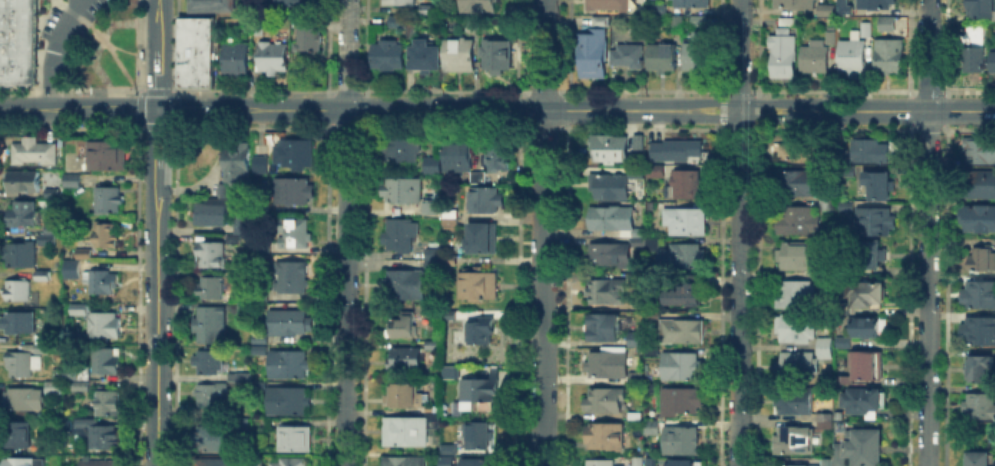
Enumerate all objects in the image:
building: (17, 2)
building: (293, 3)
building: (399, 4)
building: (606, 4)
building: (693, 4)
building: (795, 4)
building: (875, 5)
building: (212, 6)
building: (479, 7)
building: (656, 7)
building: (427, 8)
building: (980, 9)
building: (825, 10)
building: (844, 10)
building: (17, 15)
building: (601, 21)
building: (394, 22)
building: (674, 24)
building: (699, 24)
parking lot: (70, 26)
building: (888, 26)
building: (258, 30)
building: (407, 30)
building: (867, 31)
building: (194, 35)
building: (831, 36)
road: (102, 39)
building: (308, 39)
building: (17, 41)
road: (51, 50)
building: (971, 52)
road: (129, 53)
building: (425, 53)
building: (493, 53)
road: (345, 54)
building: (460, 55)
building: (593, 55)
building: (236, 56)
building: (389, 56)
building: (628, 56)
building: (699, 56)
building: (783, 56)
building: (817, 58)
building: (272, 59)
building: (663, 59)
building: (853, 60)
building: (890, 60)
building: (994, 62)
building: (17, 69)
building: (194, 70)
road: (148, 90)
road: (139, 100)
road: (743, 101)
road: (722, 109)
road: (758, 109)
traffic signals: (157, 110)
road: (347, 110)
road: (892, 110)
road: (742, 118)
building: (398, 147)
building: (677, 147)
building: (608, 148)
building: (800, 151)
building: (454, 153)
building: (871, 153)
building: (981, 153)
building: (35, 154)
building: (496, 155)
building: (108, 156)
building: (294, 156)
building: (194, 162)
building: (261, 162)
building: (430, 163)
building: (238, 165)
building: (655, 170)
building: (636, 172)
building: (471, 175)
building: (479, 175)
building: (24, 180)
building: (73, 182)
building: (879, 185)
building: (688, 186)
building: (798, 186)
building: (983, 186)
building: (610, 187)
building: (399, 188)
building: (224, 191)
building: (52, 194)
building: (294, 194)
building: (482, 197)
building: (109, 202)
building: (824, 203)
building: (428, 205)
building: (846, 206)
building: (447, 212)
building: (212, 215)
building: (24, 216)
building: (610, 216)
building: (977, 219)
building: (447, 220)
building: (797, 221)
building: (686, 223)
building: (875, 224)
building: (241, 226)
building: (448, 228)
building: (54, 229)
building: (638, 231)
road: (540, 232)
road: (738, 232)
road: (927, 232)
road: (156, 233)
building: (398, 233)
building: (292, 235)
building: (107, 236)
building: (479, 236)
building: (46, 240)
building: (637, 240)
building: (262, 251)
building: (430, 251)
building: (85, 254)
building: (609, 255)
building: (875, 255)
building: (21, 256)
building: (213, 256)
building: (682, 256)
building: (796, 257)
building: (446, 258)
building: (981, 260)
building: (430, 262)
building: (72, 270)
building: (44, 277)
building: (290, 278)
building: (474, 282)
building: (98, 283)
building: (403, 283)
road: (344, 288)
building: (210, 289)
building: (18, 291)
building: (684, 292)
building: (607, 293)
building: (867, 295)
building: (796, 296)
building: (979, 296)
building: (257, 301)
building: (240, 308)
building: (429, 308)
building: (81, 311)
building: (446, 313)
building: (653, 314)
building: (207, 322)
building: (19, 324)
building: (289, 324)
building: (400, 324)
building: (105, 327)
building: (478, 329)
building: (605, 329)
building: (868, 329)
building: (796, 331)
building: (683, 333)
building: (981, 333)
building: (259, 338)
building: (638, 341)
building: (429, 342)
building: (844, 344)
building: (42, 348)
building: (824, 348)
building: (402, 356)
building: (107, 363)
building: (210, 363)
building: (21, 364)
building: (609, 365)
building: (290, 366)
building: (866, 367)
building: (683, 368)
building: (796, 369)
building: (448, 370)
building: (56, 371)
building: (978, 371)
building: (84, 373)
building: (71, 374)
building: (637, 375)
building: (237, 378)
building: (260, 385)
building: (79, 387)
building: (655, 388)
building: (54, 390)
building: (477, 390)
building: (401, 394)
building: (212, 396)
building: (23, 401)
building: (108, 401)
building: (606, 401)
building: (863, 401)
building: (289, 403)
building: (794, 403)
building: (679, 404)
building: (430, 407)
building: (979, 408)
building: (636, 418)
building: (824, 423)
building: (407, 428)
building: (653, 428)
building: (476, 433)
building: (17, 436)
building: (101, 436)
building: (606, 438)
building: (214, 440)
building: (295, 440)
building: (681, 441)
building: (793, 441)
building: (447, 447)
building: (867, 449)
building: (839, 456)
building: (978, 459)
building: (402, 460)
building: (446, 460)
building: (474, 460)
building: (637, 460)
building: (257, 461)
building: (97, 462)
building: (295, 462)
building: (26, 463)
building: (214, 463)
building: (826, 463)
building: (683, 464)
building: (798, 464)
building: (579, 465)
building: (601, 465)

